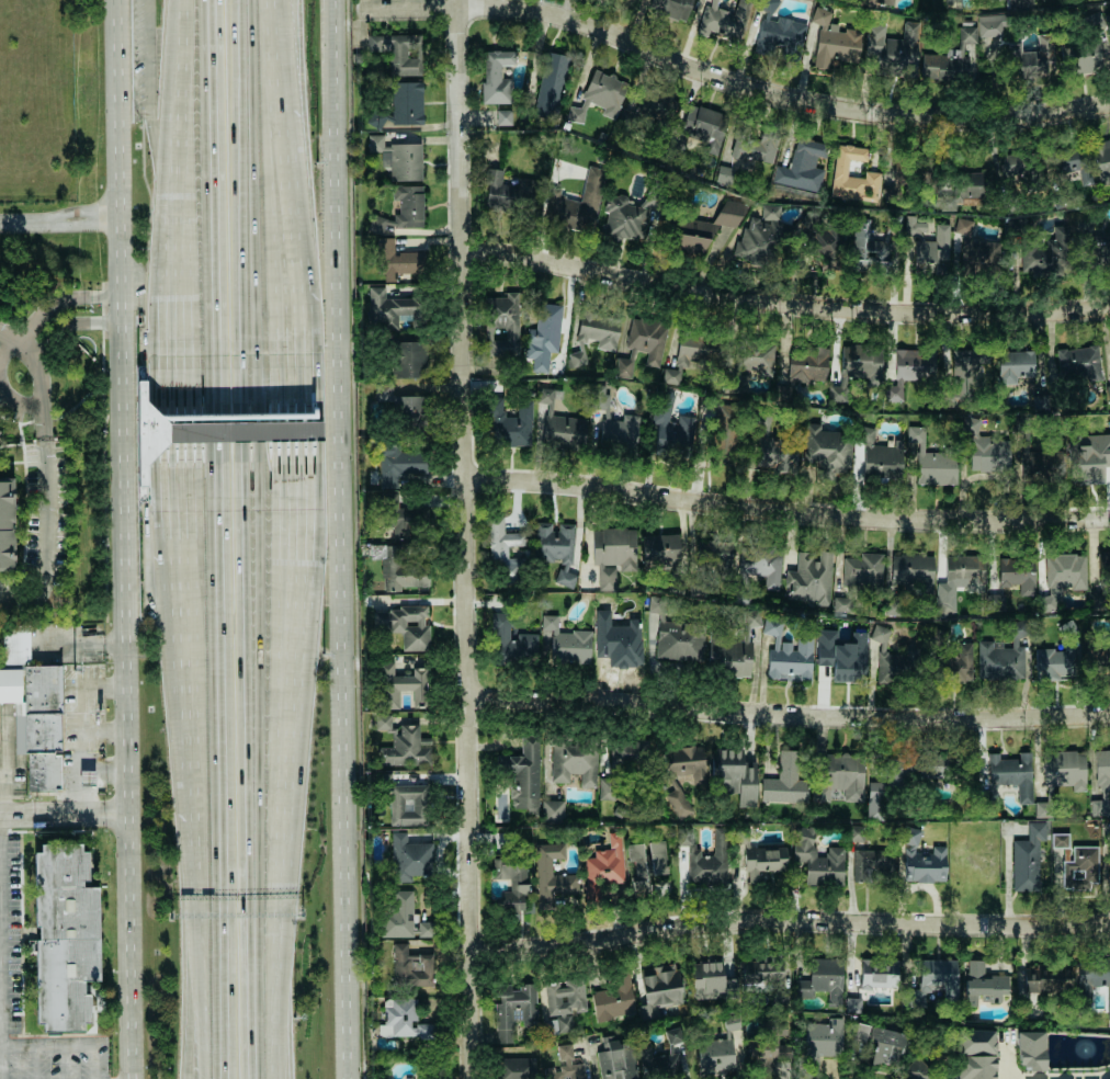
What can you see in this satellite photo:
building: (1042, 0)
building: (887, 2)
building: (771, 3)
building: (1020, 3)
road: (257, 5)
road: (262, 5)
building: (723, 19)
building: (992, 24)
building: (779, 36)
building: (834, 41)
building: (892, 44)
building: (399, 52)
road: (258, 56)
building: (1083, 56)
road: (183, 57)
building: (1033, 57)
building: (952, 59)
building: (496, 76)
road: (734, 80)
building: (599, 95)
building: (407, 102)
building: (654, 103)
building: (503, 116)
road: (148, 125)
building: (703, 128)
building: (375, 143)
building: (751, 144)
road: (259, 149)
road: (179, 155)
building: (1074, 160)
building: (1102, 160)
building: (406, 161)
building: (1019, 162)
building: (802, 166)
building: (839, 174)
building: (893, 186)
building: (965, 188)
building: (511, 192)
building: (580, 202)
building: (408, 205)
road: (84, 212)
road: (215, 215)
building: (622, 217)
road: (23, 222)
road: (84, 224)
building: (382, 224)
building: (706, 228)
road: (259, 229)
building: (763, 236)
road: (177, 247)
building: (872, 247)
building: (974, 247)
building: (932, 250)
building: (1098, 250)
building: (1046, 253)
building: (397, 261)
road: (260, 284)
road: (783, 302)
road: (52, 303)
building: (390, 307)
road: (70, 322)
building: (505, 323)
building: (593, 334)
building: (543, 336)
building: (646, 338)
building: (691, 354)
building: (757, 357)
building: (411, 359)
building: (1078, 362)
building: (808, 364)
building: (625, 366)
building: (1013, 366)
building: (856, 367)
building: (910, 371)
building: (963, 371)
road: (39, 377)
road: (18, 401)
building: (1039, 401)
building: (399, 402)
road: (180, 416)
building: (613, 422)
building: (511, 423)
building: (559, 423)
road: (20, 424)
building: (669, 425)
toll booth: (261, 430)
toll booth: (181, 431)
toll booth: (219, 431)
toll booth: (228, 431)
building: (724, 439)
building: (827, 448)
building: (988, 452)
building: (775, 454)
building: (880, 455)
building: (1088, 457)
road: (261, 459)
building: (930, 462)
building: (399, 464)
building: (1035, 464)
road: (786, 510)
road: (26, 513)
building: (403, 516)
building: (7, 524)
road: (43, 533)
road: (122, 538)
road: (347, 538)
road: (465, 539)
building: (555, 549)
building: (376, 550)
building: (505, 550)
building: (660, 550)
building: (612, 553)
road: (182, 564)
building: (760, 565)
building: (1103, 568)
building: (401, 569)
building: (910, 569)
building: (862, 570)
building: (1018, 573)
building: (1063, 575)
building: (809, 578)
building: (959, 580)
building: (996, 602)
building: (656, 605)
building: (404, 625)
road: (71, 635)
road: (184, 640)
building: (511, 640)
building: (619, 640)
building: (680, 640)
building: (562, 641)
building: (730, 654)
building: (788, 654)
building: (841, 656)
building: (1000, 658)
building: (894, 660)
building: (1054, 662)
building: (958, 665)
road: (264, 672)
building: (401, 685)
road: (83, 711)
road: (788, 713)
building: (36, 720)
building: (383, 722)
road: (188, 729)
building: (405, 748)
building: (630, 752)
road: (225, 754)
building: (574, 761)
building: (1065, 769)
building: (1008, 772)
building: (682, 774)
road: (78, 775)
road: (106, 775)
road: (114, 776)
building: (840, 776)
building: (785, 780)
building: (1101, 783)
road: (5, 799)
road: (267, 799)
building: (408, 804)
road: (192, 808)
building: (552, 811)
road: (60, 815)
building: (1060, 840)
building: (410, 857)
building: (706, 857)
building: (817, 857)
building: (1027, 857)
building: (921, 860)
building: (763, 861)
building: (871, 862)
building: (645, 863)
building: (603, 866)
building: (1081, 867)
building: (551, 875)
building: (512, 881)
road: (195, 906)
road: (269, 916)
building: (404, 917)
road: (790, 920)
road: (1, 930)
building: (64, 938)
building: (411, 966)
building: (762, 970)
building: (879, 974)
building: (826, 977)
building: (1046, 978)
building: (931, 981)
building: (982, 983)
building: (1097, 983)
building: (658, 989)
building: (565, 996)
building: (613, 998)
building: (852, 1004)
building: (514, 1008)
building: (403, 1020)
road: (193, 1021)
road: (199, 1021)
road: (270, 1023)
building: (564, 1023)
building: (730, 1024)
building: (859, 1032)
building: (974, 1041)
building: (820, 1042)
road: (46, 1045)
building: (888, 1045)
building: (1031, 1049)
building: (768, 1052)
building: (715, 1055)
building: (615, 1057)
road: (1, 1061)
road: (92, 1061)
road: (1005, 1061)
building: (564, 1065)
building: (975, 1067)
building: (517, 1068)
building: (921, 1070)

